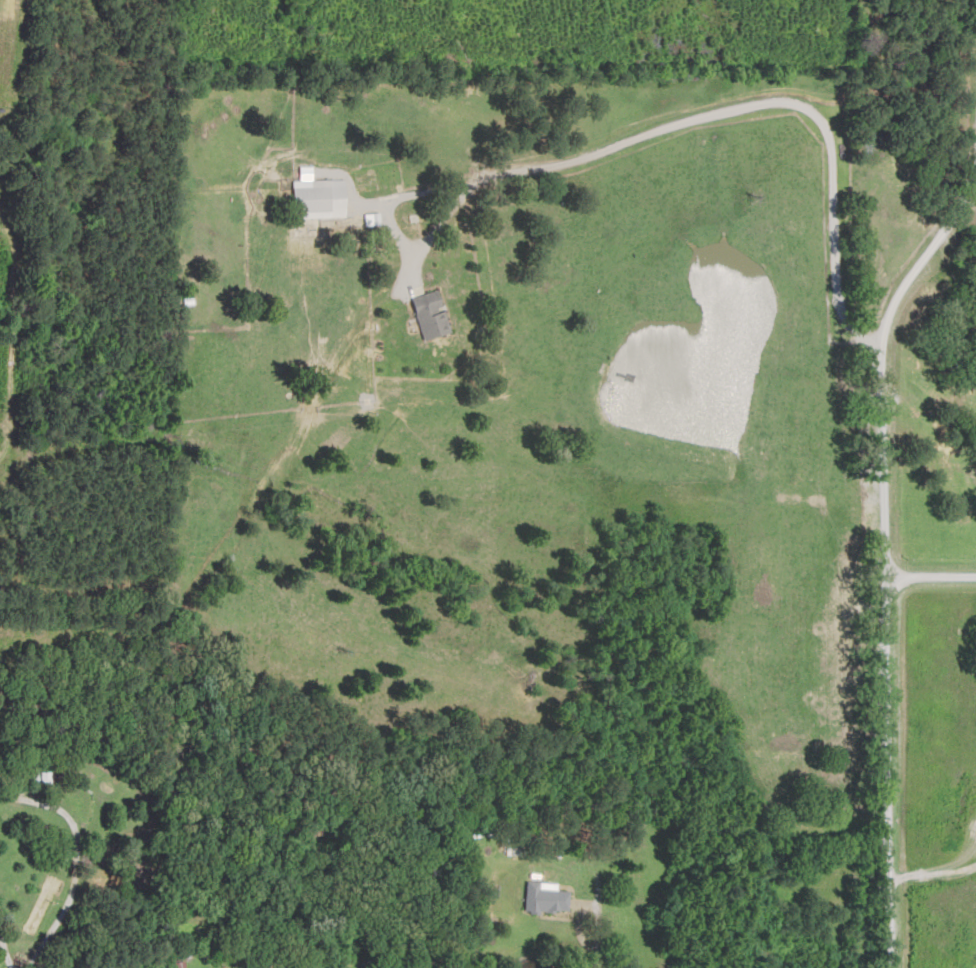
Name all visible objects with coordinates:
road: (864, 83)
building: (319, 200)
building: (431, 315)
road: (257, 490)
road: (871, 566)
road: (923, 577)
road: (924, 873)
building: (549, 900)

